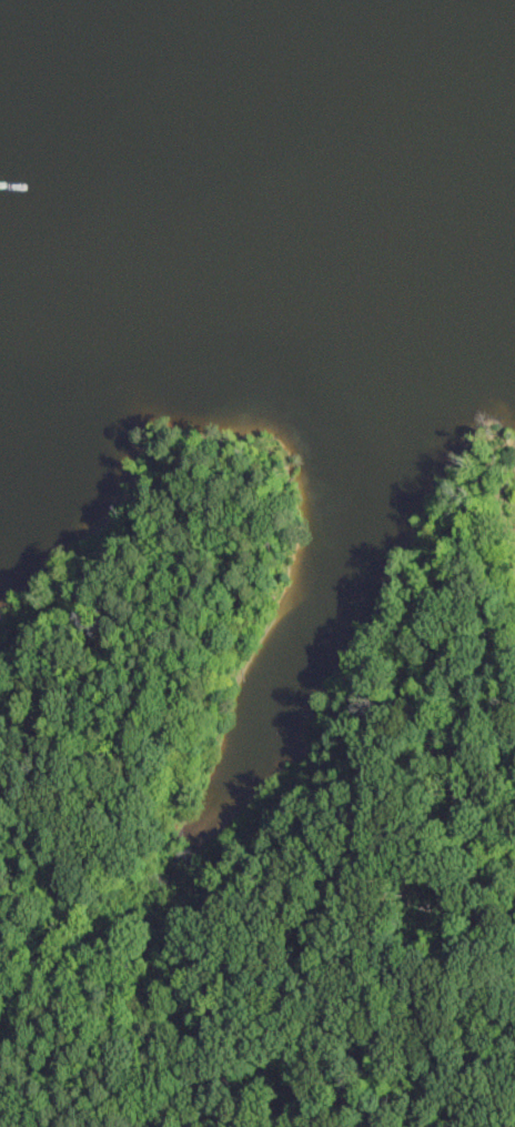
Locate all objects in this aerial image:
park: (260, 811)
road: (213, 934)

